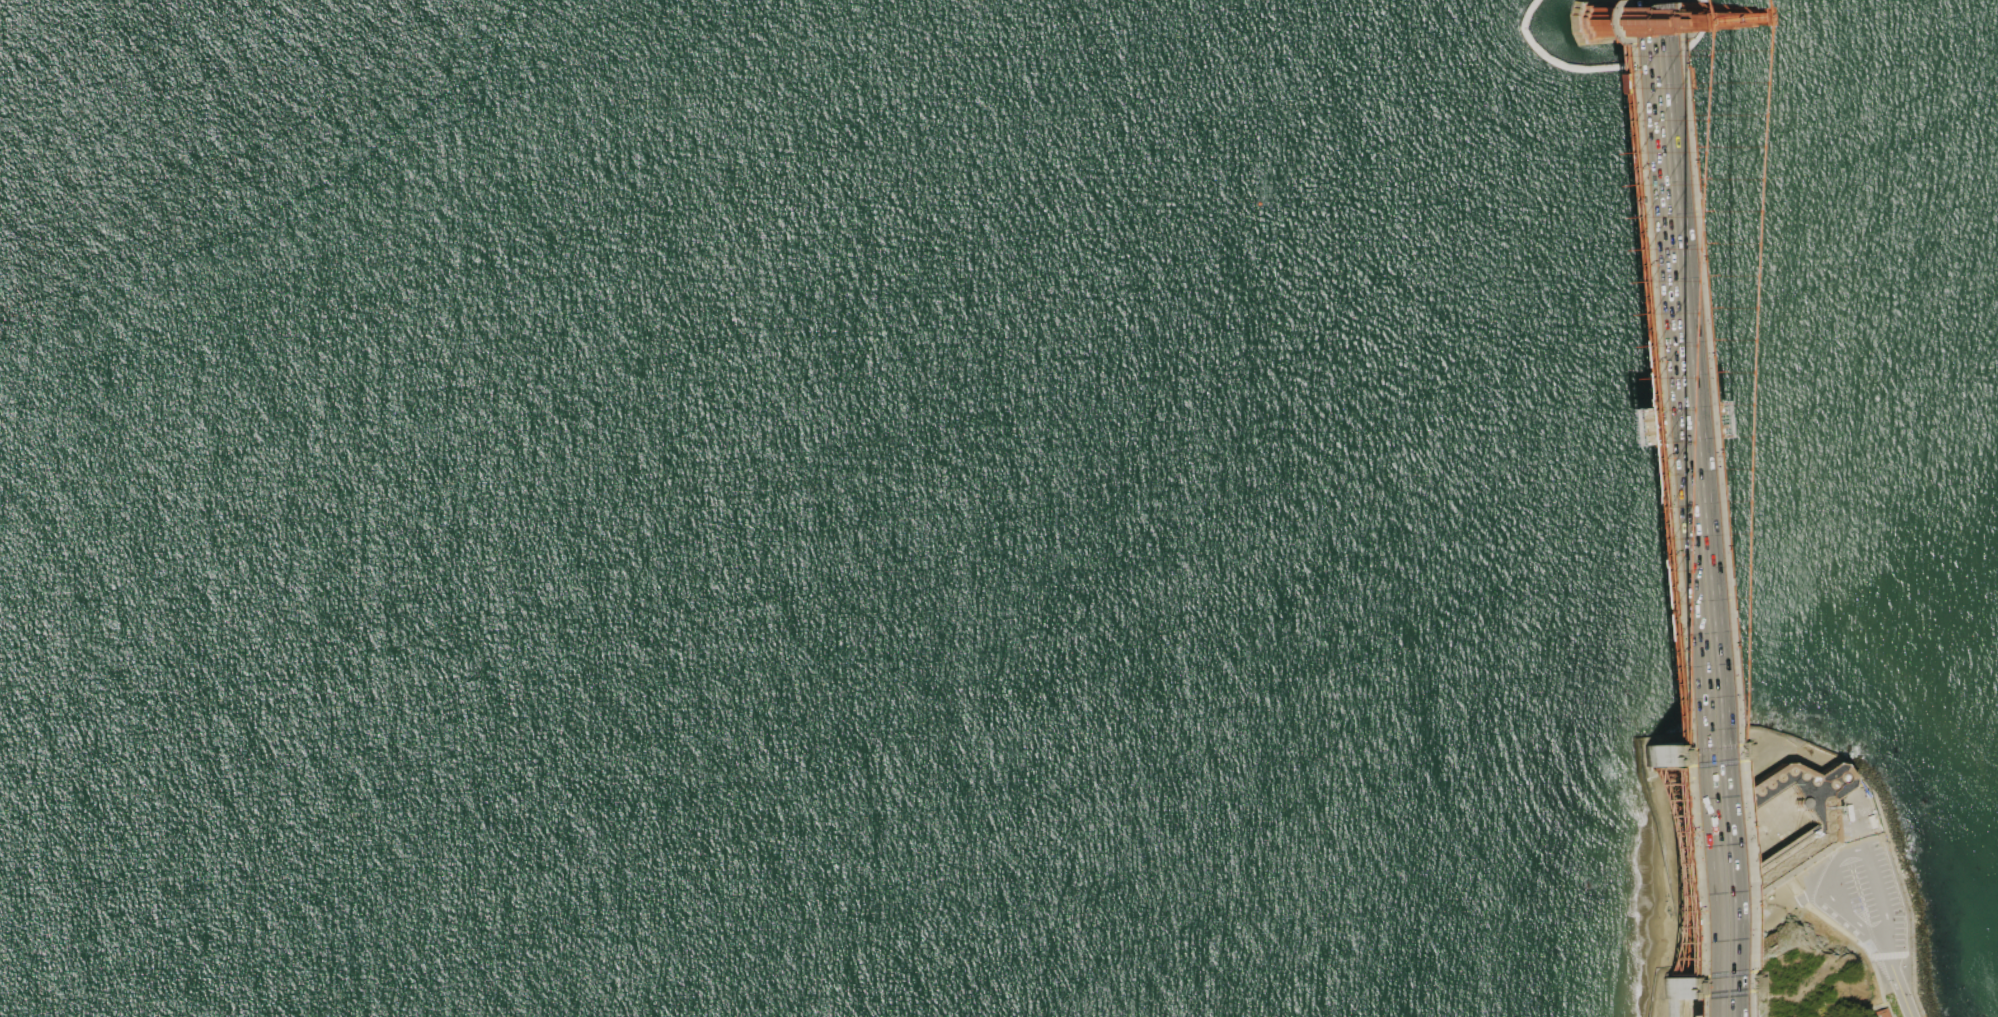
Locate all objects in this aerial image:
road: (1632, 498)
road: (1684, 502)
road: (1649, 508)
road: (1668, 508)
road: (1861, 804)
road: (1858, 828)
building: (1801, 852)
park: (1778, 880)
road: (1793, 885)
parking lot: (1862, 887)
road: (1803, 899)
road: (1880, 899)
road: (1835, 901)
road: (1904, 905)
road: (1860, 944)
road: (1888, 955)
road: (1898, 986)
road: (1881, 1006)
building: (1880, 1013)

